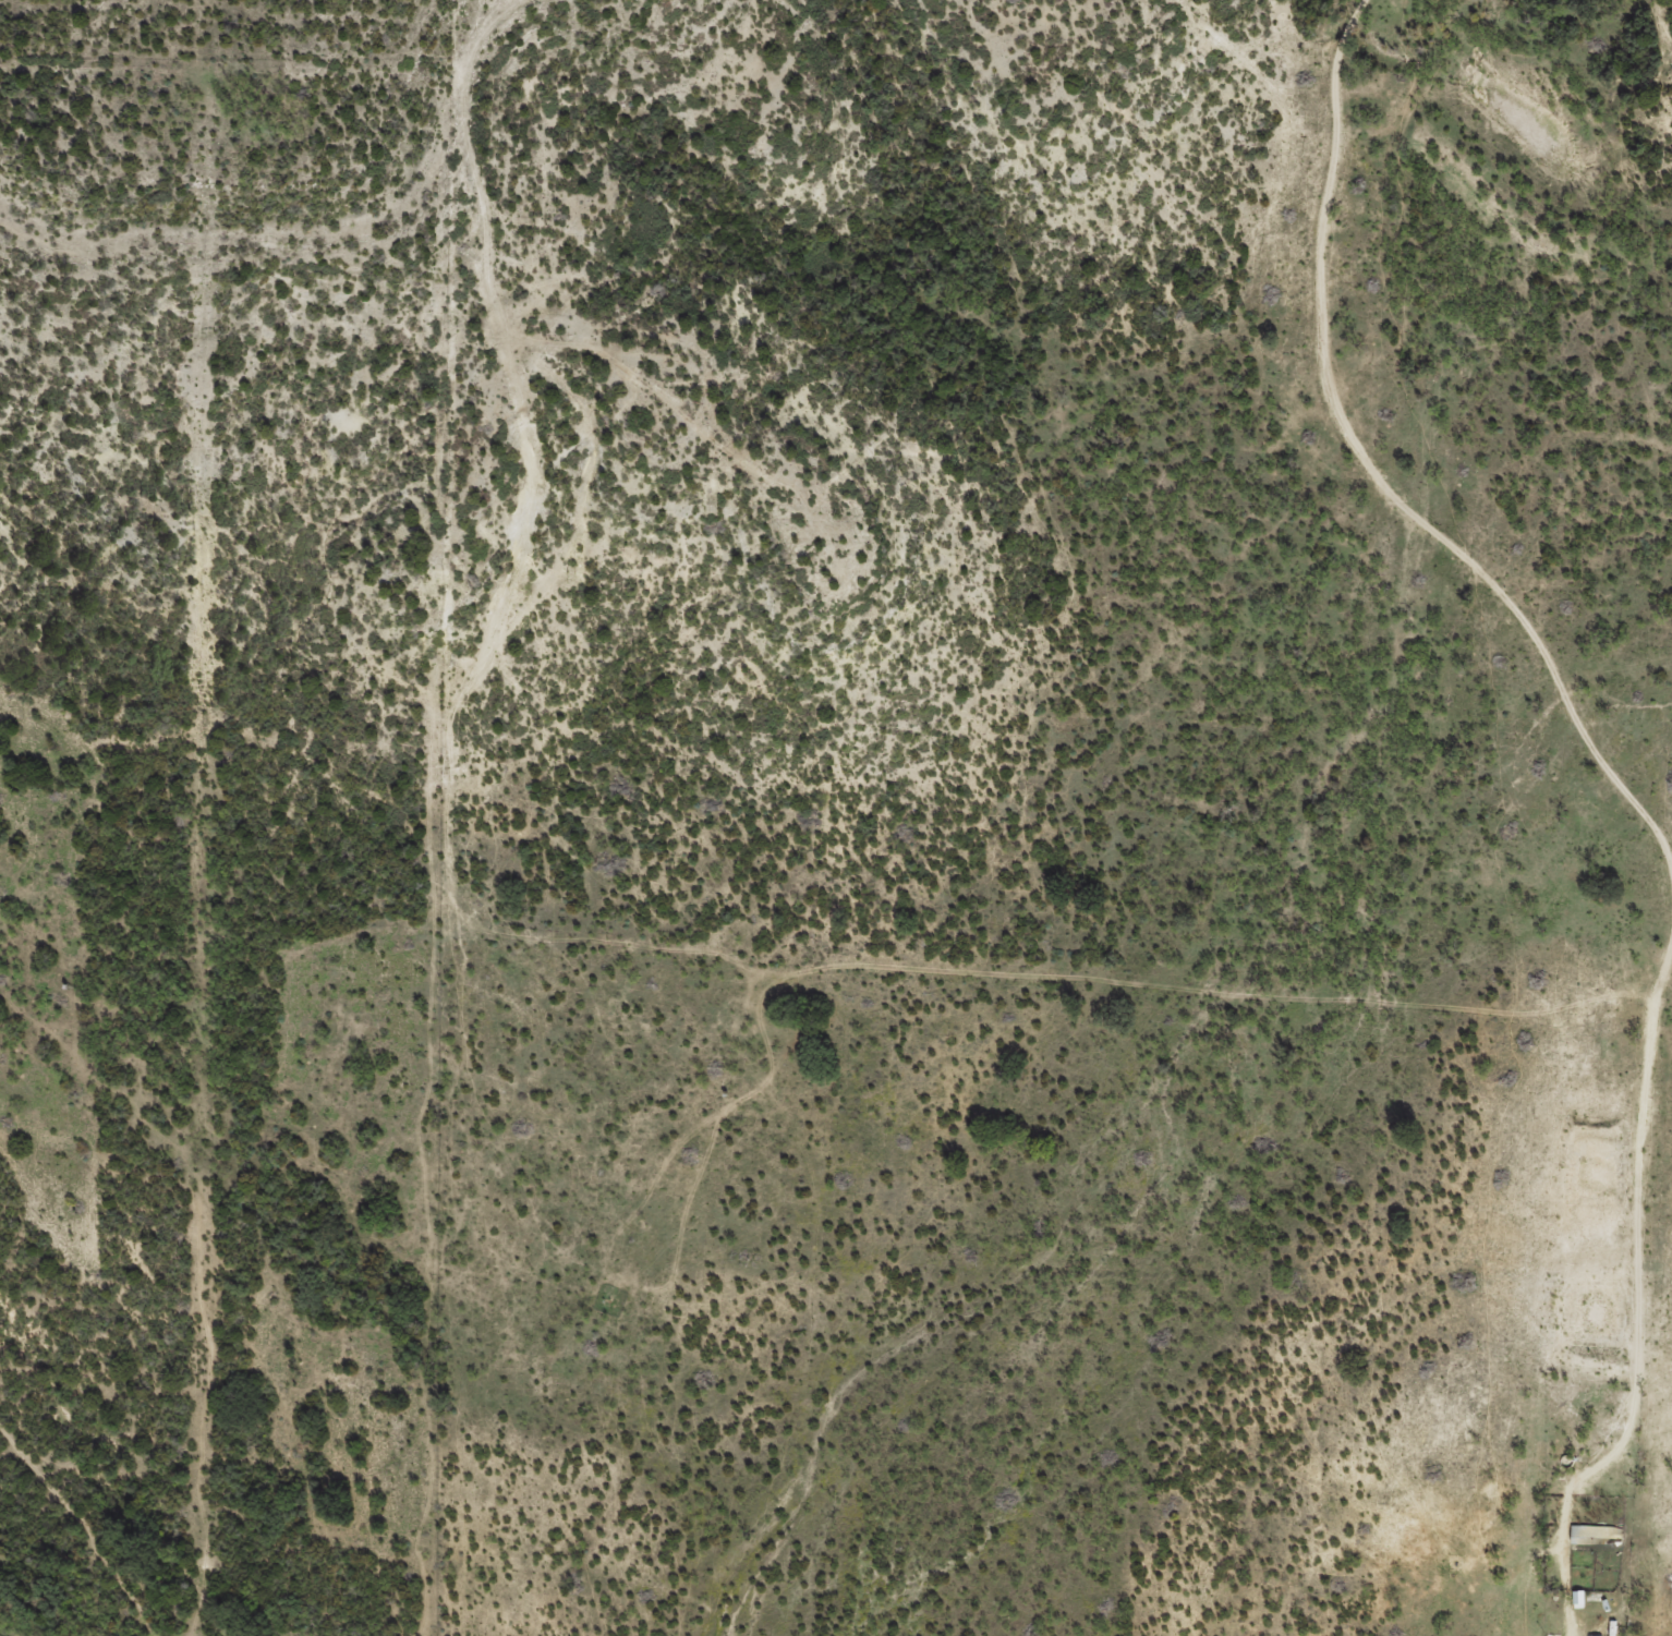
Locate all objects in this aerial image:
road: (1391, 476)
road: (1635, 1302)
road: (85, 1530)
building: (1596, 1535)

